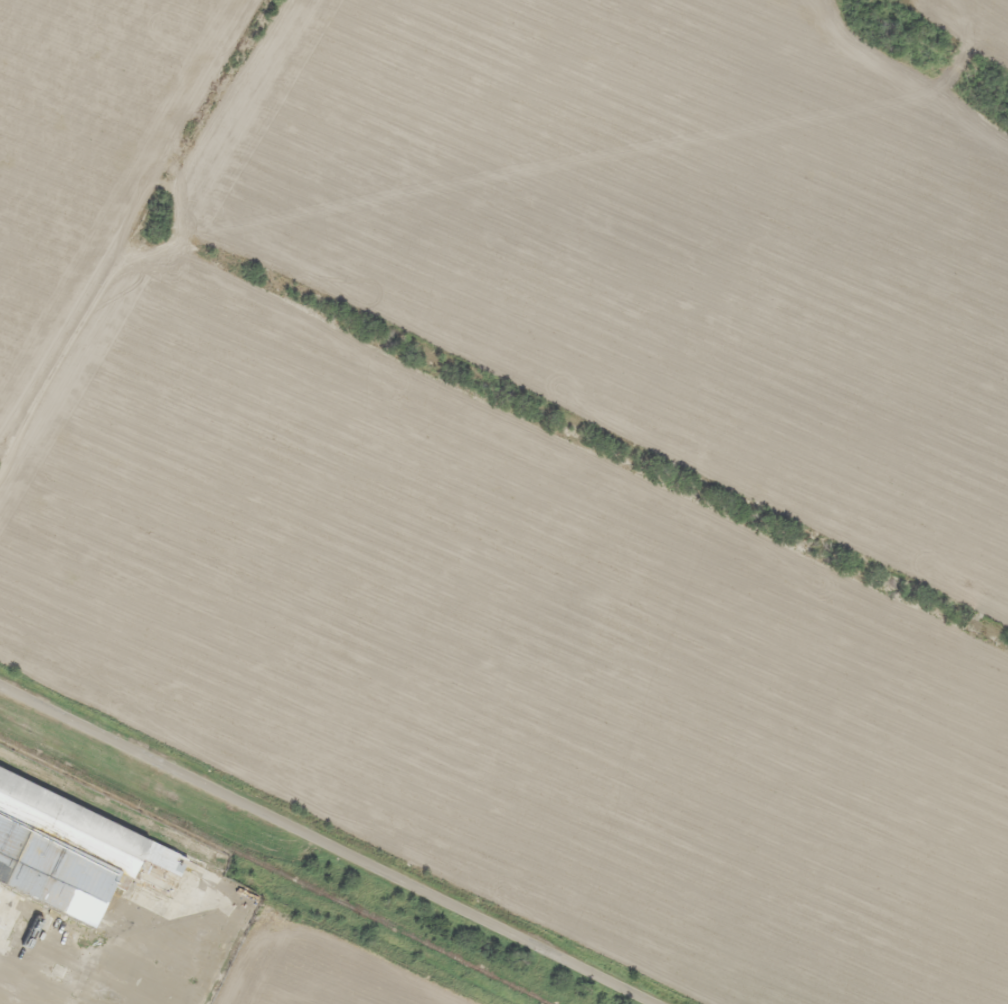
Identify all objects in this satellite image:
road: (331, 844)
railway: (275, 866)

